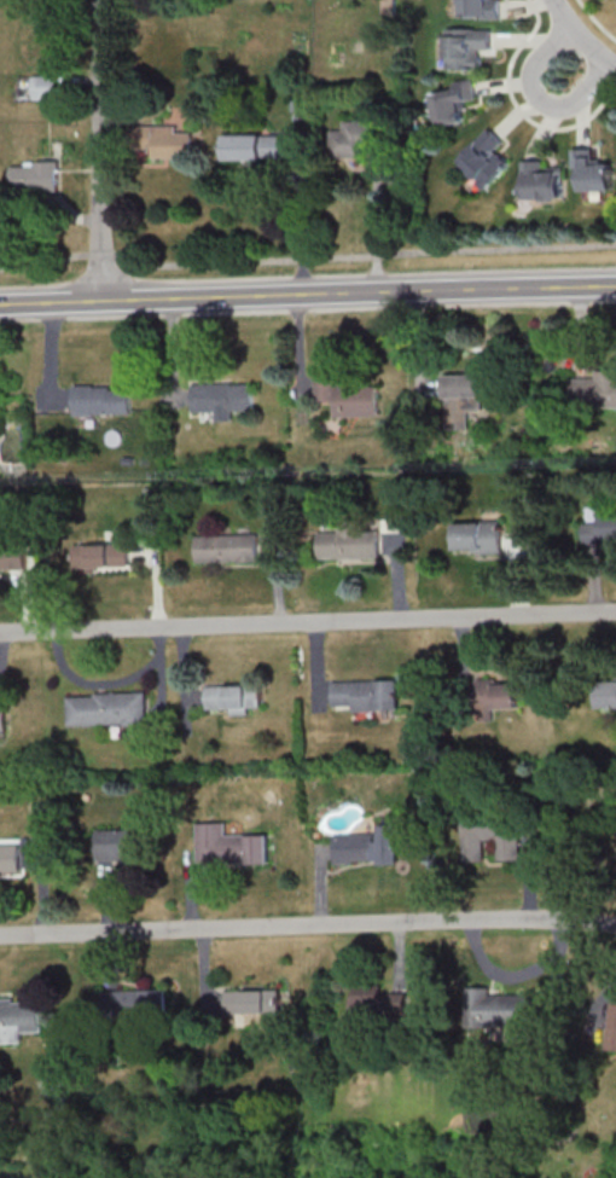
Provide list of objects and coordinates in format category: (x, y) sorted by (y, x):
building: (478, 8)
road: (597, 21)
road: (580, 37)
building: (465, 48)
building: (46, 88)
road: (539, 97)
building: (453, 105)
road: (515, 106)
building: (356, 140)
building: (162, 144)
road: (104, 149)
building: (255, 150)
building: (483, 161)
building: (592, 175)
building: (36, 179)
building: (541, 184)
road: (302, 220)
road: (376, 222)
road: (307, 259)
road: (308, 292)
building: (594, 391)
building: (467, 396)
building: (220, 397)
building: (349, 399)
building: (101, 401)
building: (599, 530)
building: (475, 539)
building: (348, 545)
building: (225, 550)
building: (12, 557)
building: (99, 557)
road: (307, 619)
building: (605, 694)
building: (364, 696)
building: (232, 697)
building: (492, 698)
building: (105, 709)
building: (2, 720)
building: (487, 837)
building: (226, 846)
building: (362, 847)
building: (121, 848)
building: (10, 859)
road: (308, 925)
building: (246, 1000)
building: (132, 1002)
building: (378, 1008)
building: (504, 1008)
building: (18, 1019)
building: (611, 1033)

